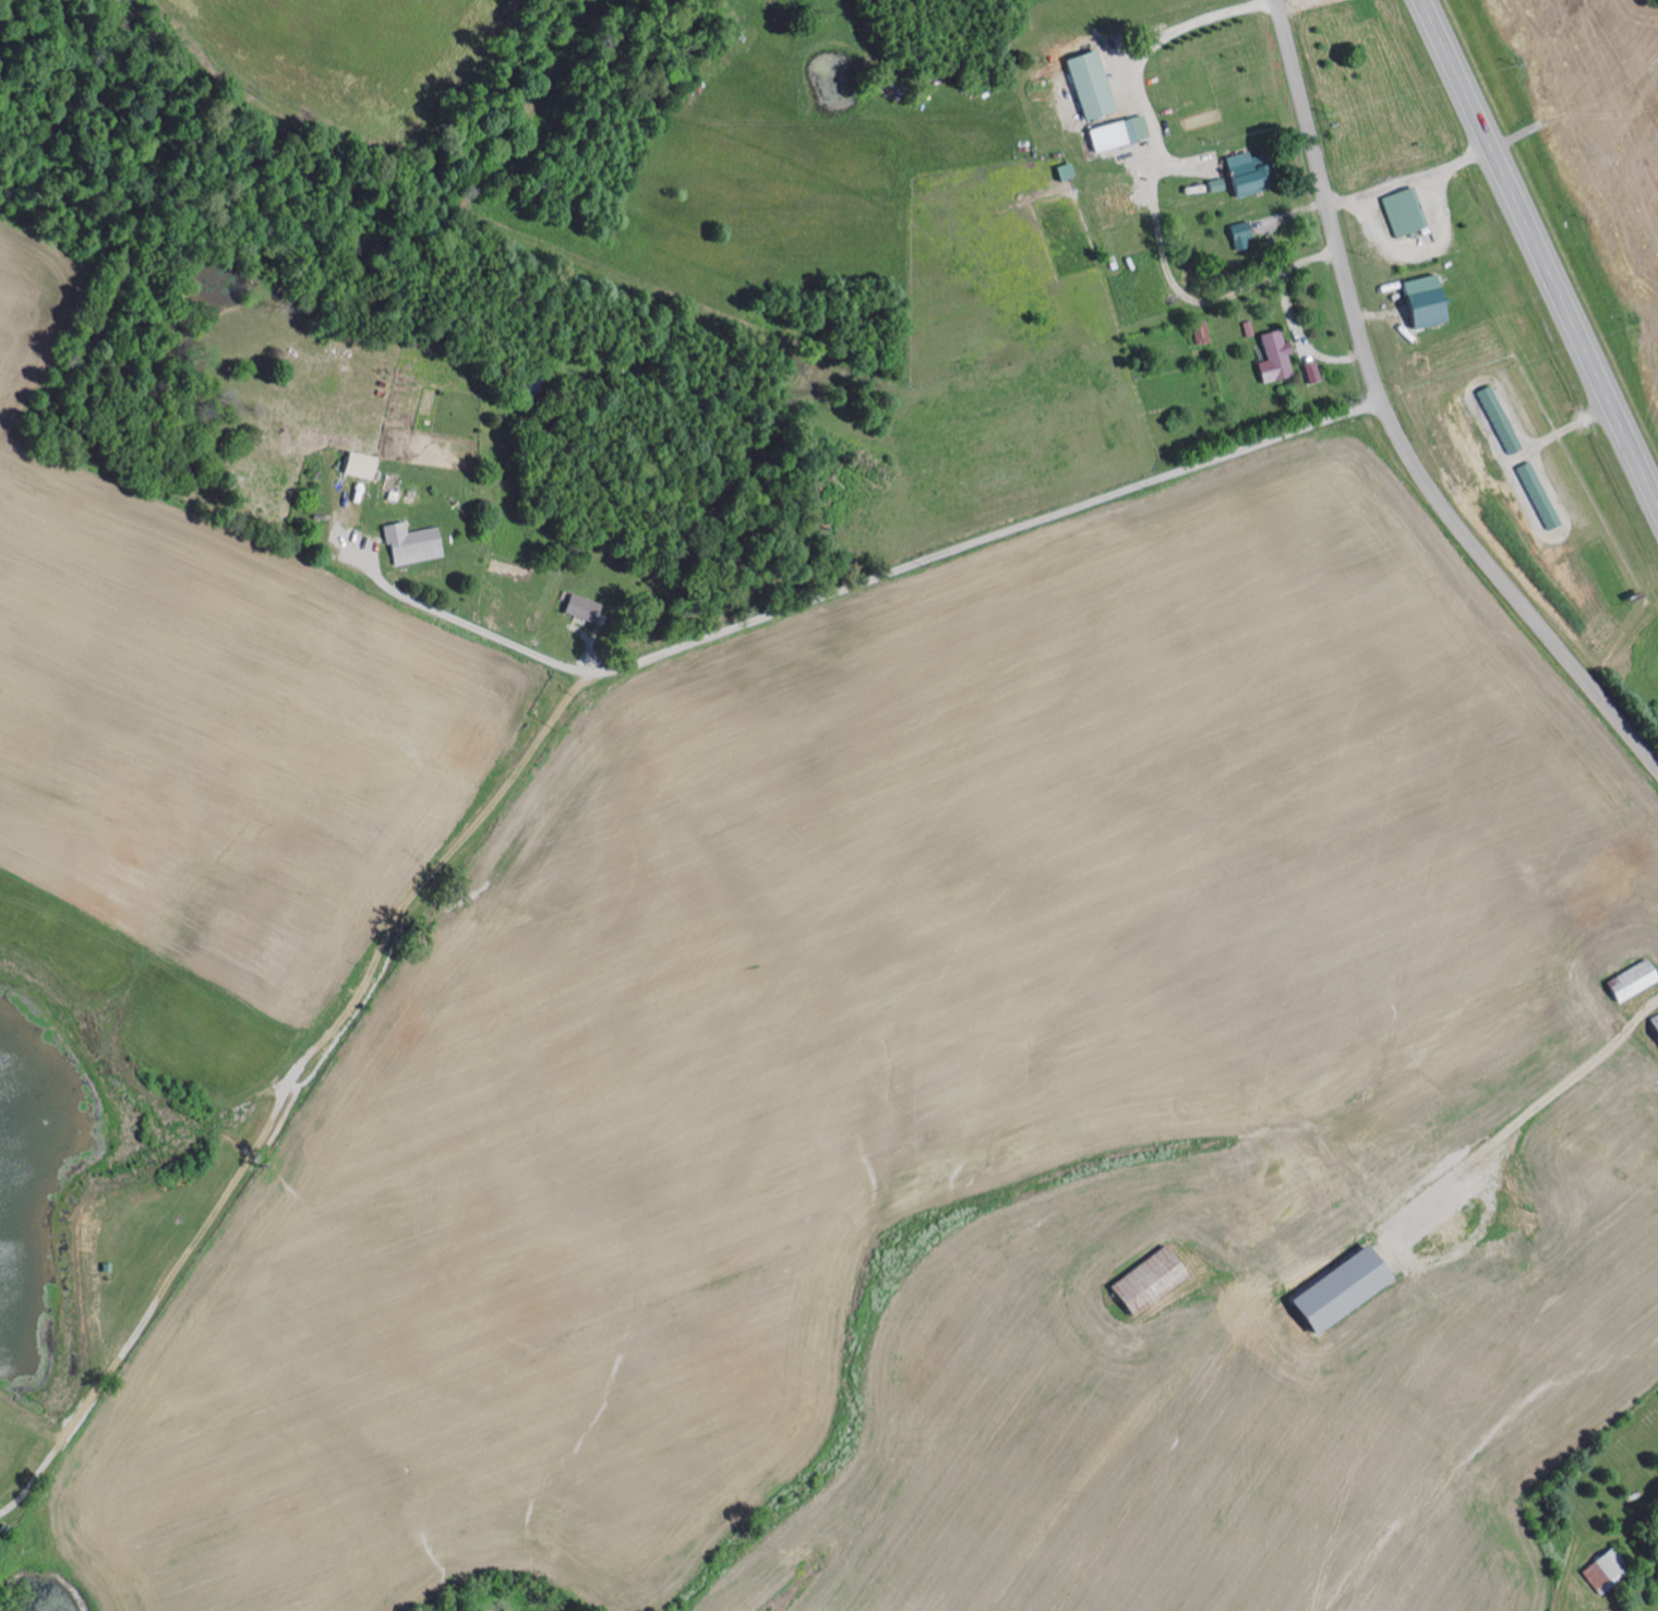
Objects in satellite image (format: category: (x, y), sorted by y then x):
building: (1086, 85)
building: (1115, 133)
building: (1239, 176)
building: (1213, 185)
building: (1403, 212)
building: (1246, 235)
road: (1538, 253)
building: (1418, 302)
building: (1200, 330)
building: (1272, 357)
building: (1310, 370)
building: (1495, 418)
road: (1390, 424)
building: (357, 465)
building: (1535, 494)
building: (409, 543)
road: (890, 575)
building: (580, 609)
building: (1630, 981)
building: (1654, 1024)
road: (296, 1089)
building: (1143, 1281)
building: (1333, 1290)
building: (1602, 1572)

